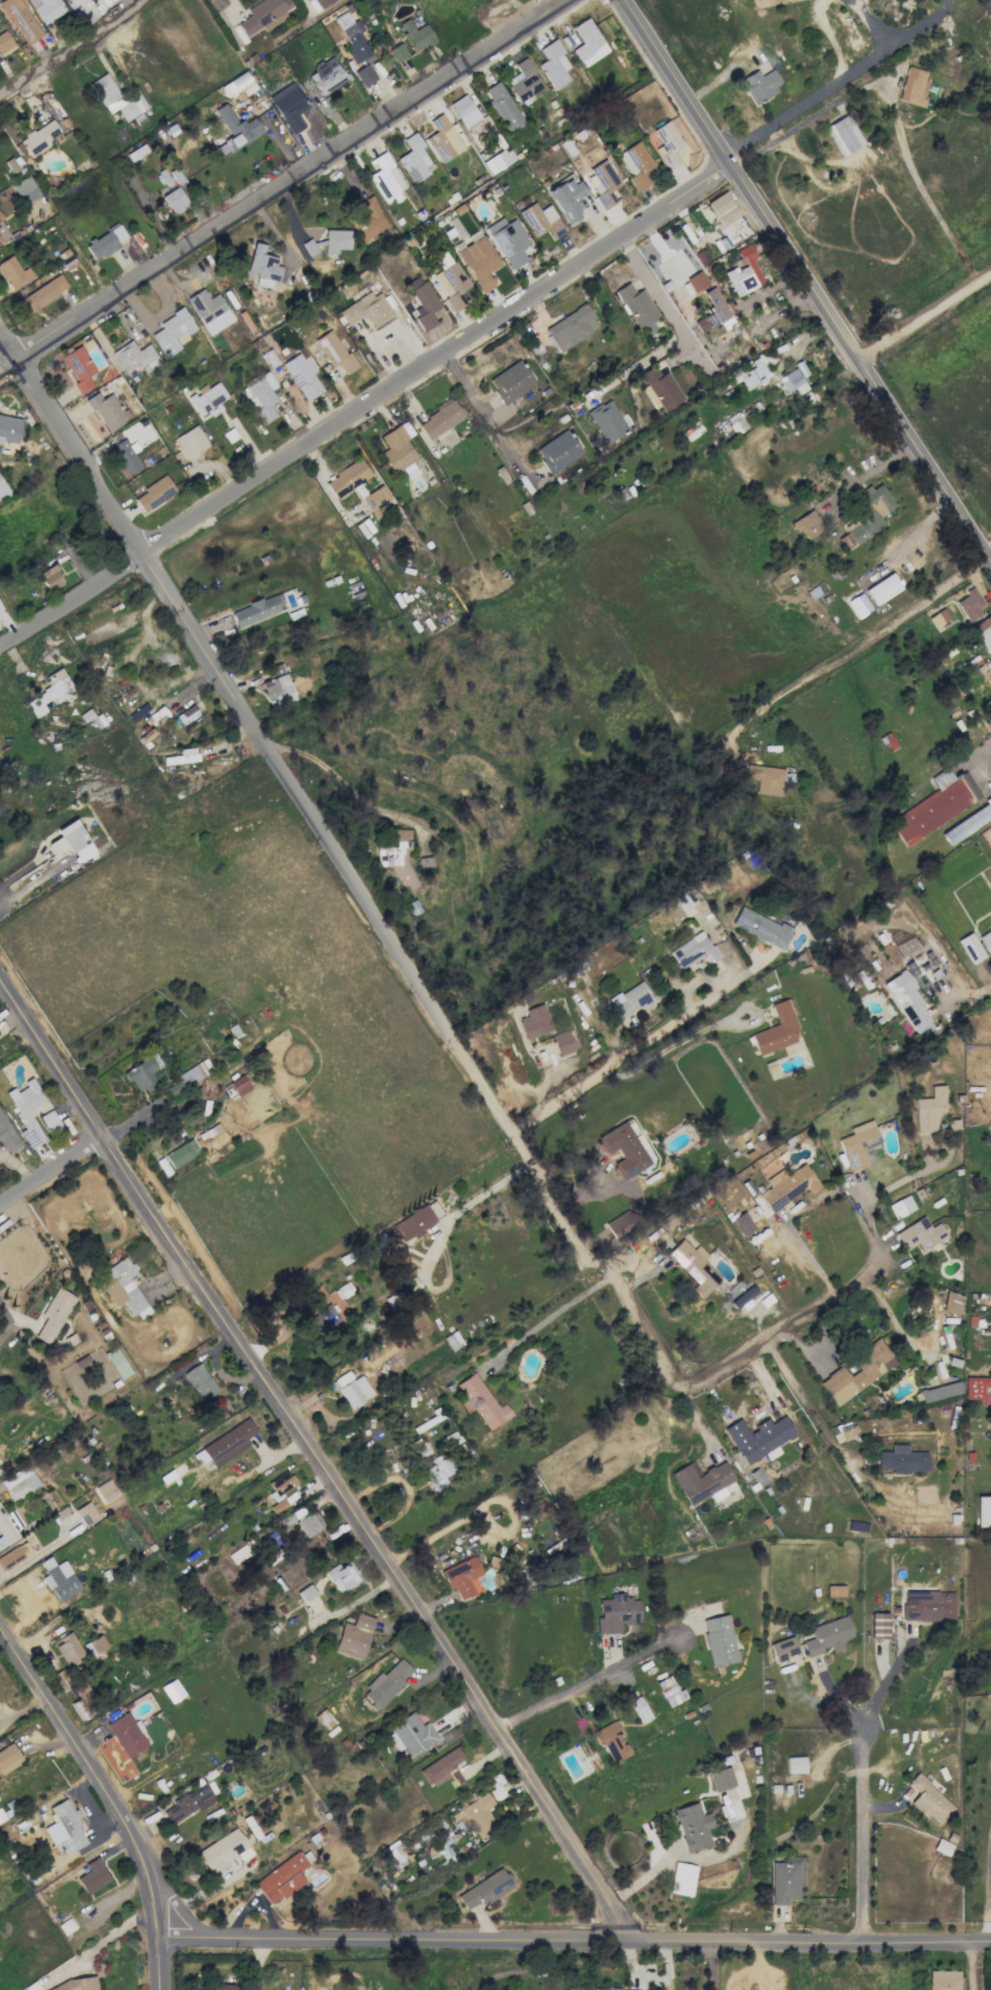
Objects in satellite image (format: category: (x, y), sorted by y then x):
building: (74, 1)
road: (856, 1)
road: (857, 1)
building: (322, 3)
building: (46, 9)
building: (263, 15)
road: (929, 18)
building: (20, 20)
road: (875, 25)
building: (416, 35)
building: (352, 37)
building: (589, 41)
building: (5, 43)
road: (72, 49)
building: (397, 52)
building: (554, 62)
building: (364, 75)
building: (326, 76)
building: (525, 81)
building: (237, 85)
building: (760, 85)
building: (914, 85)
road: (821, 96)
building: (117, 99)
building: (288, 106)
building: (504, 106)
building: (467, 113)
building: (235, 130)
building: (844, 133)
building: (38, 138)
building: (442, 139)
building: (667, 144)
building: (135, 153)
building: (414, 157)
building: (498, 160)
building: (636, 164)
building: (386, 177)
road: (915, 178)
building: (604, 183)
road: (284, 185)
building: (25, 190)
building: (568, 199)
building: (174, 200)
building: (723, 209)
building: (367, 218)
building: (541, 220)
building: (3, 232)
building: (329, 241)
building: (508, 241)
building: (104, 243)
building: (477, 259)
building: (265, 267)
building: (14, 273)
building: (696, 281)
road: (808, 281)
building: (305, 284)
building: (451, 284)
building: (42, 293)
building: (293, 298)
building: (422, 301)
building: (254, 302)
building: (637, 307)
building: (365, 309)
building: (209, 310)
building: (712, 311)
road: (924, 314)
building: (272, 315)
building: (137, 326)
building: (571, 327)
building: (172, 330)
road: (680, 330)
building: (334, 351)
building: (134, 355)
building: (79, 368)
building: (749, 374)
building: (302, 375)
building: (793, 379)
building: (510, 382)
building: (661, 388)
building: (260, 396)
building: (207, 399)
road: (366, 404)
building: (106, 409)
road: (484, 414)
building: (439, 419)
building: (607, 420)
building: (9, 429)
building: (190, 442)
building: (397, 447)
building: (557, 451)
building: (125, 456)
road: (874, 467)
building: (347, 478)
building: (3, 489)
building: (155, 494)
building: (375, 498)
building: (867, 514)
building: (807, 525)
road: (914, 534)
road: (989, 555)
building: (51, 577)
building: (882, 589)
building: (858, 605)
building: (969, 605)
building: (0, 607)
building: (254, 611)
building: (937, 618)
building: (984, 632)
road: (867, 638)
building: (989, 675)
building: (277, 687)
building: (50, 692)
building: (188, 716)
building: (185, 755)
road: (984, 758)
building: (765, 779)
building: (936, 805)
building: (967, 823)
building: (71, 841)
building: (397, 859)
building: (424, 863)
road: (33, 882)
building: (761, 928)
building: (986, 940)
building: (970, 948)
building: (693, 950)
road: (404, 959)
road: (968, 993)
building: (630, 999)
building: (908, 1002)
building: (534, 1022)
building: (776, 1029)
road: (658, 1040)
building: (562, 1042)
building: (140, 1075)
building: (187, 1078)
building: (239, 1085)
building: (27, 1110)
building: (929, 1110)
building: (50, 1122)
building: (7, 1135)
building: (858, 1144)
building: (624, 1148)
building: (181, 1153)
road: (51, 1172)
road: (905, 1179)
building: (786, 1186)
building: (900, 1206)
building: (415, 1221)
road: (872, 1221)
building: (742, 1223)
building: (920, 1234)
road: (437, 1239)
road: (807, 1253)
building: (694, 1266)
building: (742, 1296)
building: (952, 1303)
building: (54, 1314)
road: (552, 1315)
road: (8, 1317)
building: (324, 1318)
building: (117, 1362)
building: (857, 1372)
building: (198, 1382)
building: (974, 1387)
building: (351, 1389)
building: (939, 1391)
building: (482, 1402)
road: (807, 1406)
road: (756, 1414)
building: (758, 1438)
building: (226, 1443)
road: (311, 1459)
building: (902, 1460)
building: (438, 1471)
building: (700, 1480)
building: (19, 1482)
building: (105, 1490)
building: (279, 1490)
building: (801, 1505)
building: (983, 1511)
building: (86, 1513)
building: (304, 1521)
building: (8, 1527)
building: (14, 1555)
building: (340, 1577)
building: (462, 1577)
building: (58, 1579)
building: (835, 1590)
building: (306, 1592)
building: (927, 1606)
building: (616, 1613)
building: (878, 1626)
building: (354, 1636)
building: (827, 1636)
building: (719, 1640)
building: (97, 1644)
building: (783, 1648)
building: (68, 1650)
road: (887, 1678)
building: (60, 1680)
building: (385, 1684)
building: (988, 1684)
road: (581, 1688)
building: (171, 1691)
building: (669, 1691)
building: (83, 1701)
building: (324, 1719)
building: (126, 1734)
building: (410, 1735)
building: (610, 1741)
building: (8, 1758)
building: (795, 1764)
building: (441, 1765)
road: (95, 1774)
building: (721, 1779)
building: (929, 1800)
building: (188, 1803)
building: (476, 1816)
building: (692, 1826)
building: (65, 1828)
road: (865, 1835)
building: (445, 1847)
building: (223, 1851)
building: (93, 1876)
building: (281, 1878)
building: (681, 1879)
building: (785, 1880)
road: (638, 1883)
building: (485, 1889)
road: (988, 1904)
road: (575, 1940)
road: (103, 1943)
road: (161, 1963)
road: (712, 1965)
road: (973, 1966)
building: (944, 1980)
building: (76, 1984)
building: (216, 1986)
building: (606, 1988)

